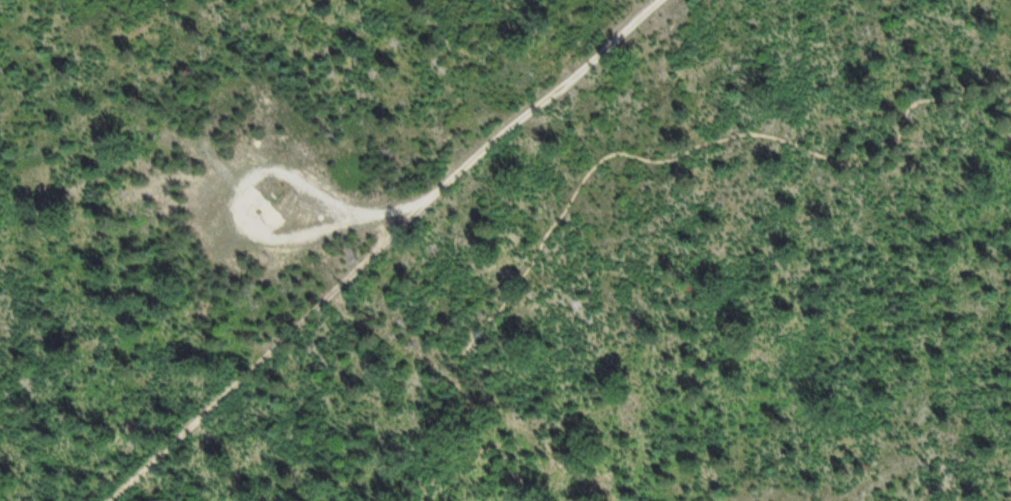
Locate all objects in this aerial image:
building: (199, 124)
road: (623, 150)
road: (256, 230)
road: (378, 245)

